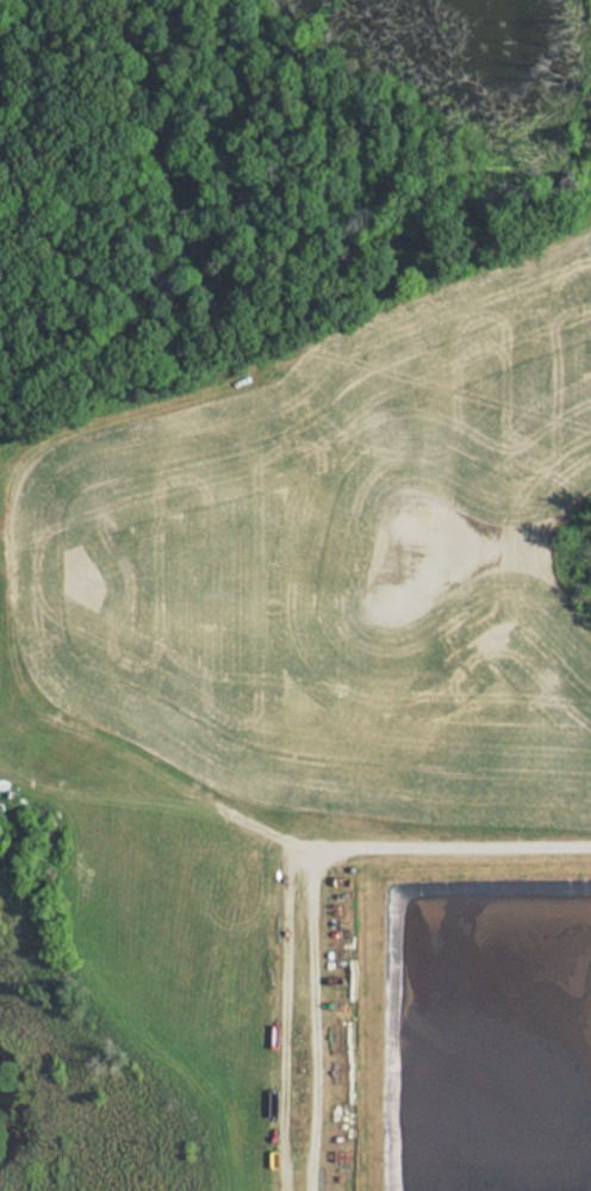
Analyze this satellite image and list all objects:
road: (231, 314)
road: (94, 728)
road: (305, 882)

